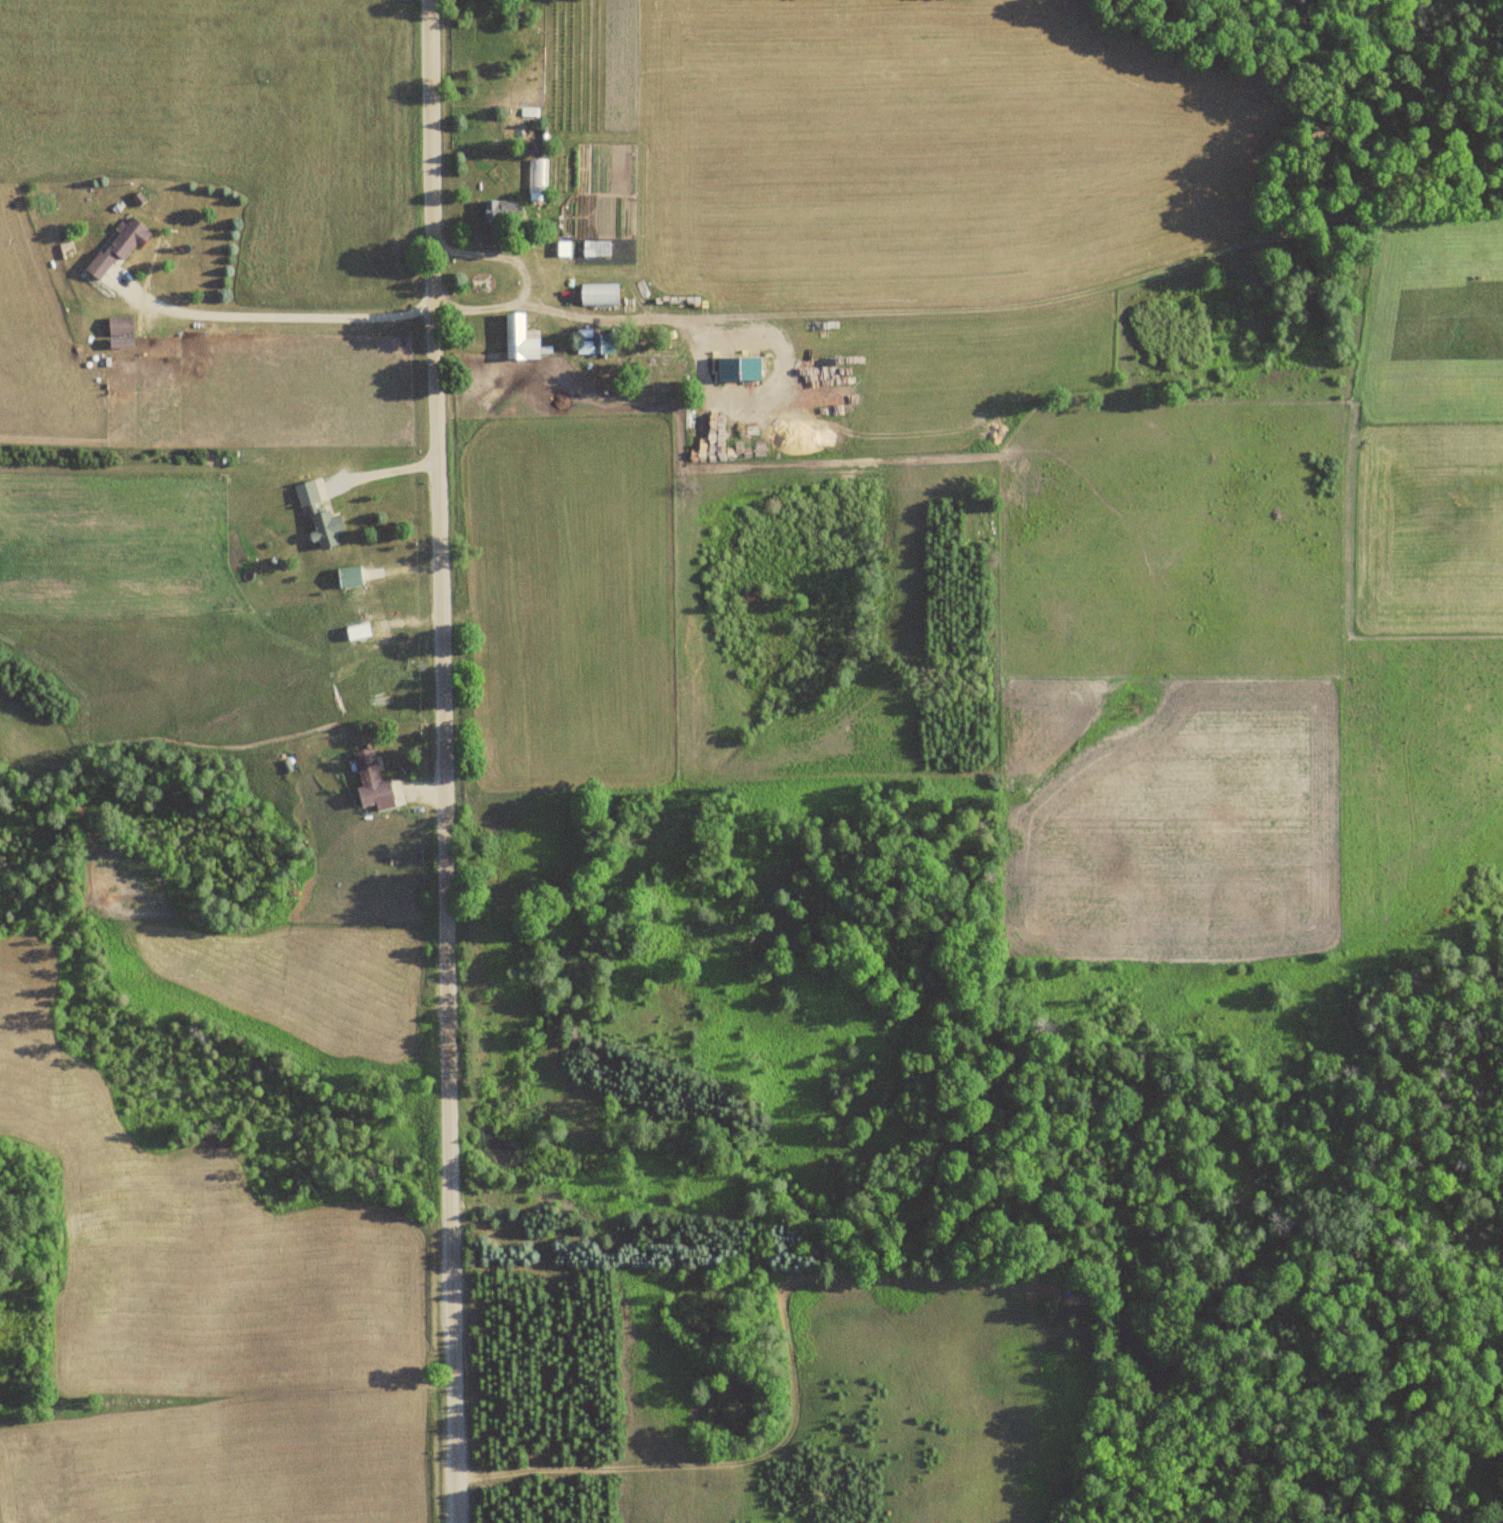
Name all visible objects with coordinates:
building: (496, 211)
building: (116, 247)
building: (597, 295)
building: (119, 332)
building: (519, 341)
building: (583, 350)
building: (305, 492)
building: (324, 527)
building: (347, 577)
building: (355, 632)
road: (444, 761)
building: (368, 779)
road: (794, 1396)

